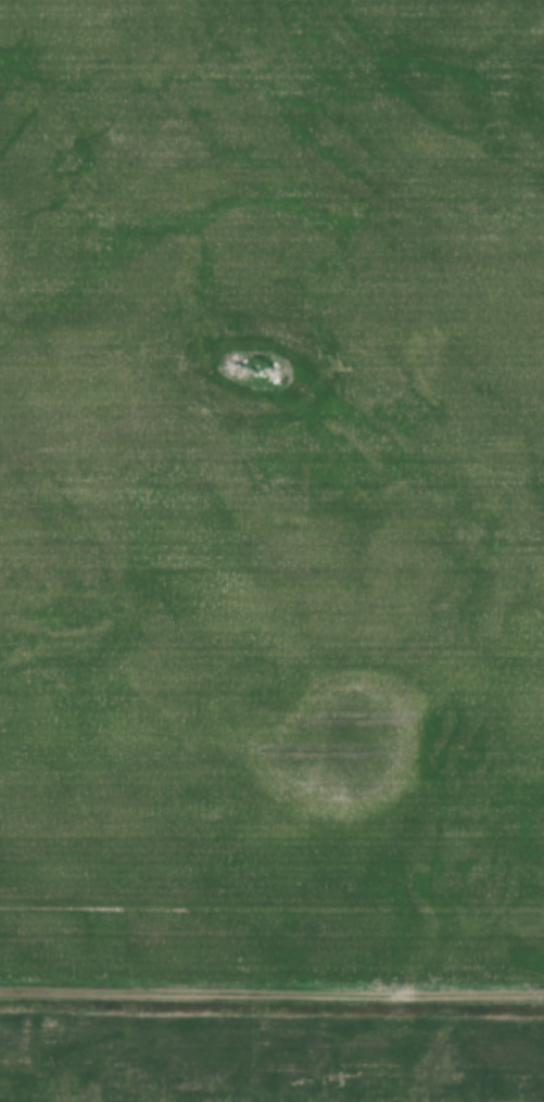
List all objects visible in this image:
road: (271, 991)

